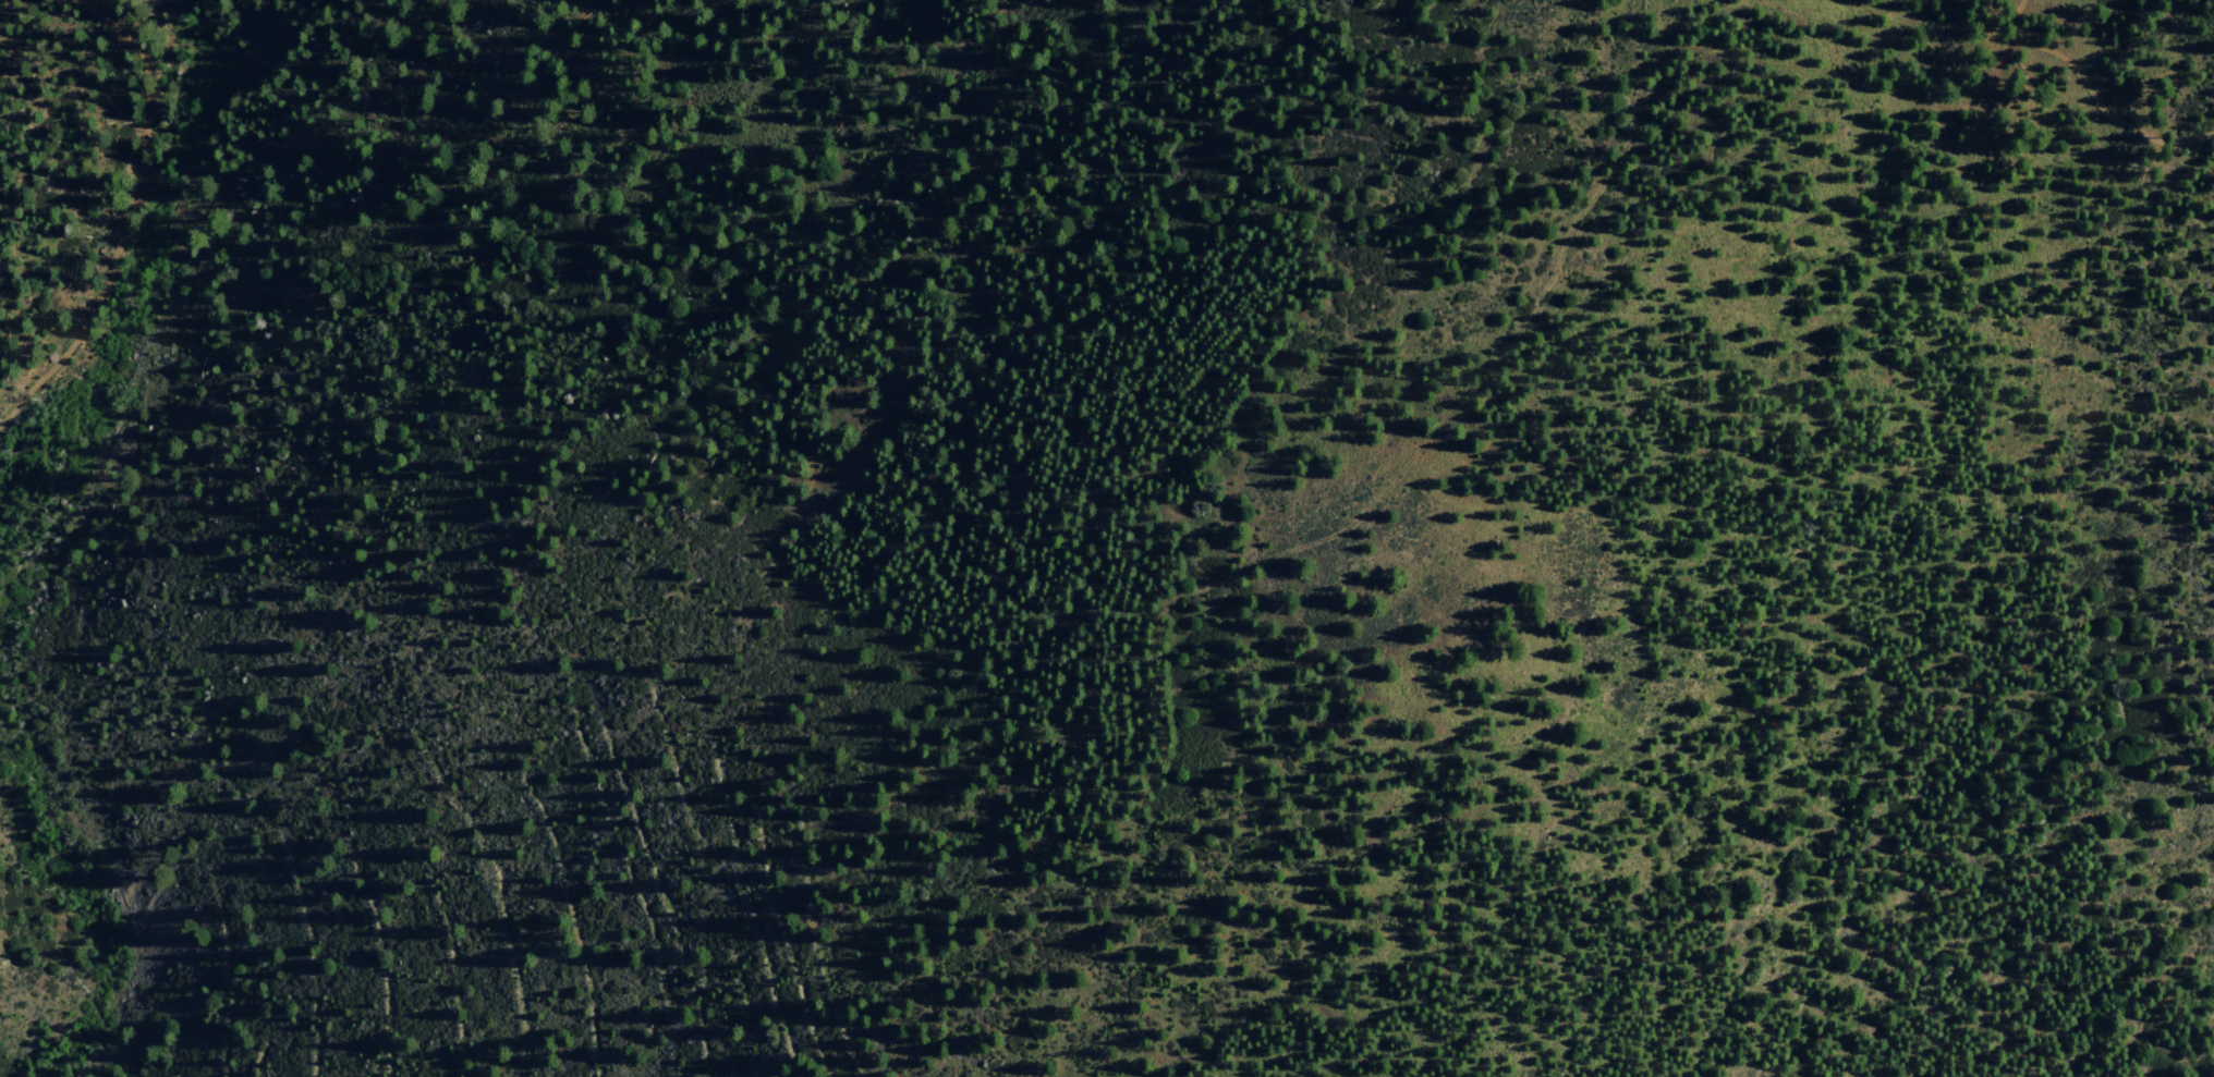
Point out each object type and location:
road: (132, 216)

